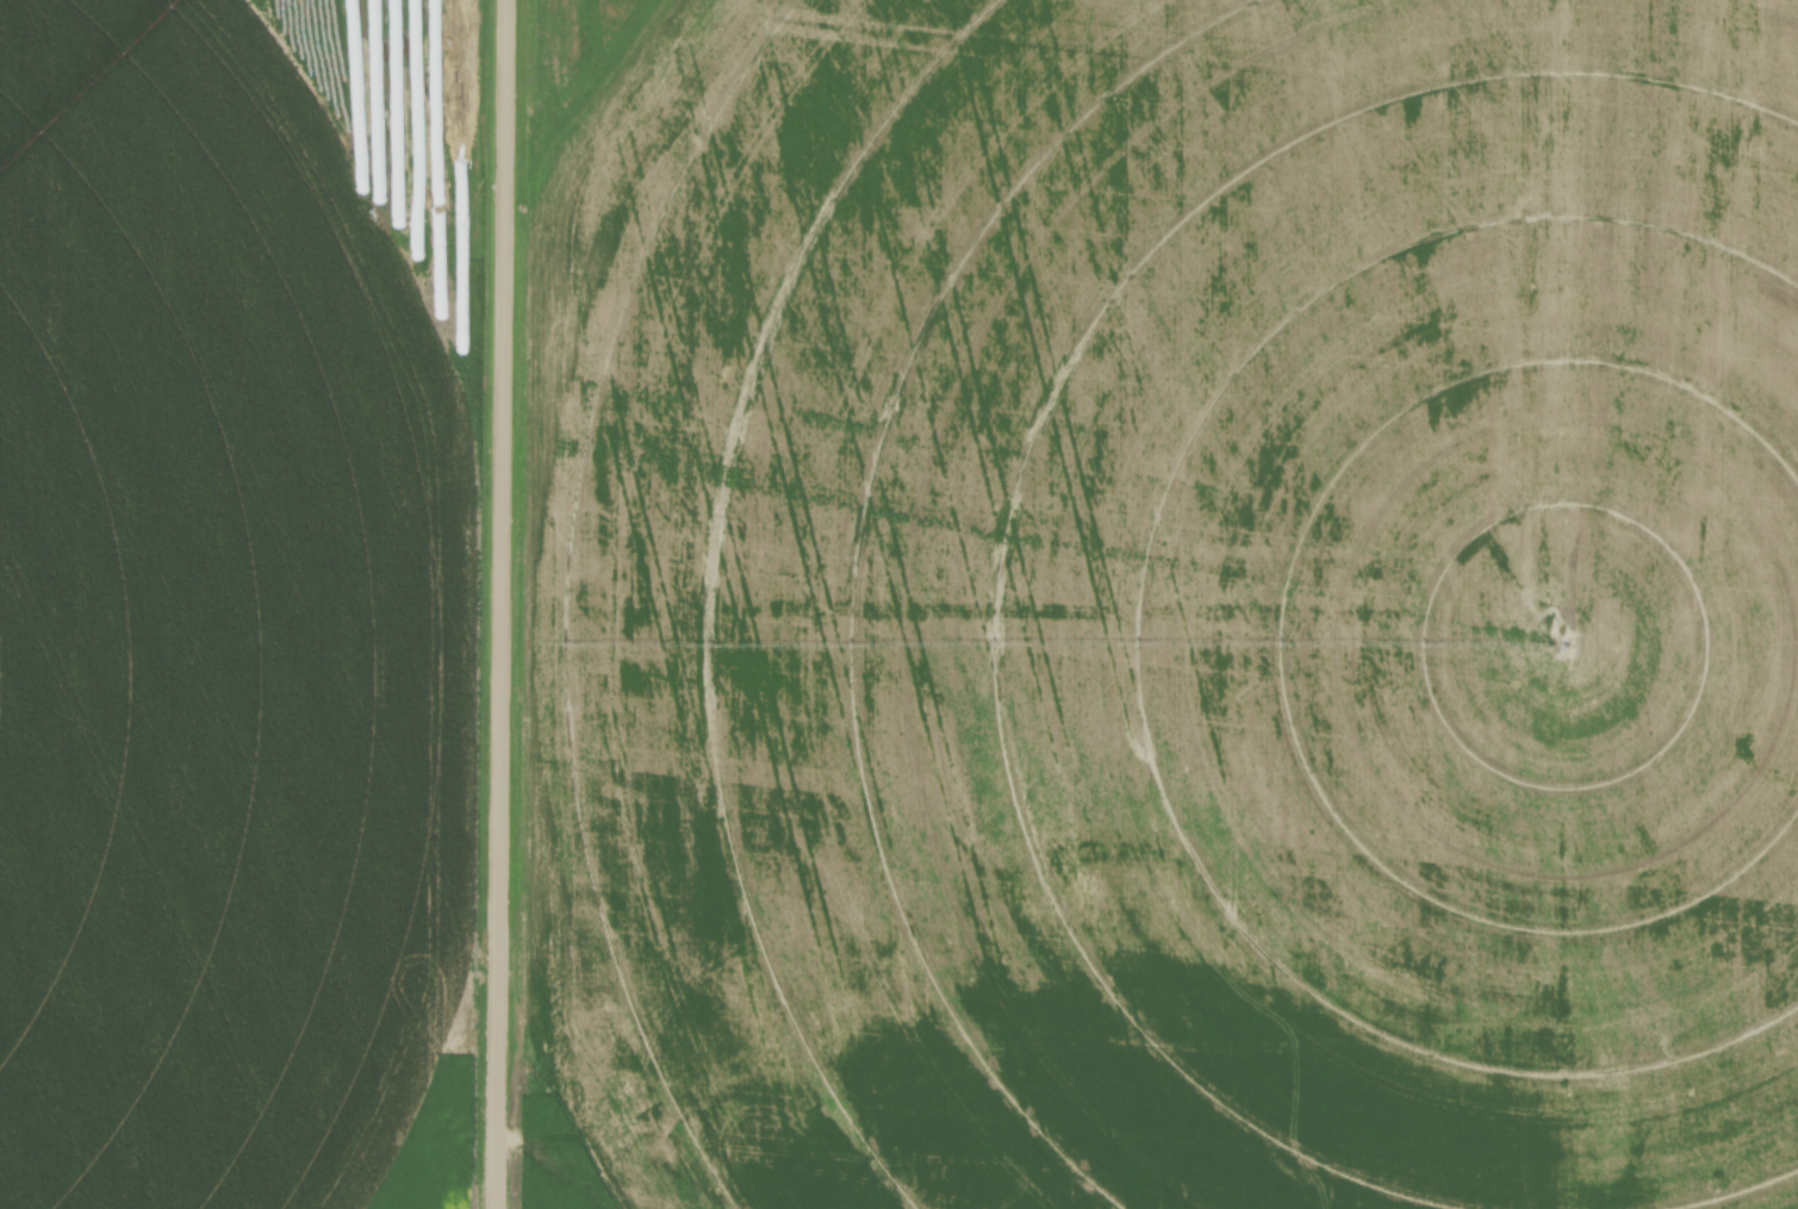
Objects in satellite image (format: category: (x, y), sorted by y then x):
road: (504, 604)

